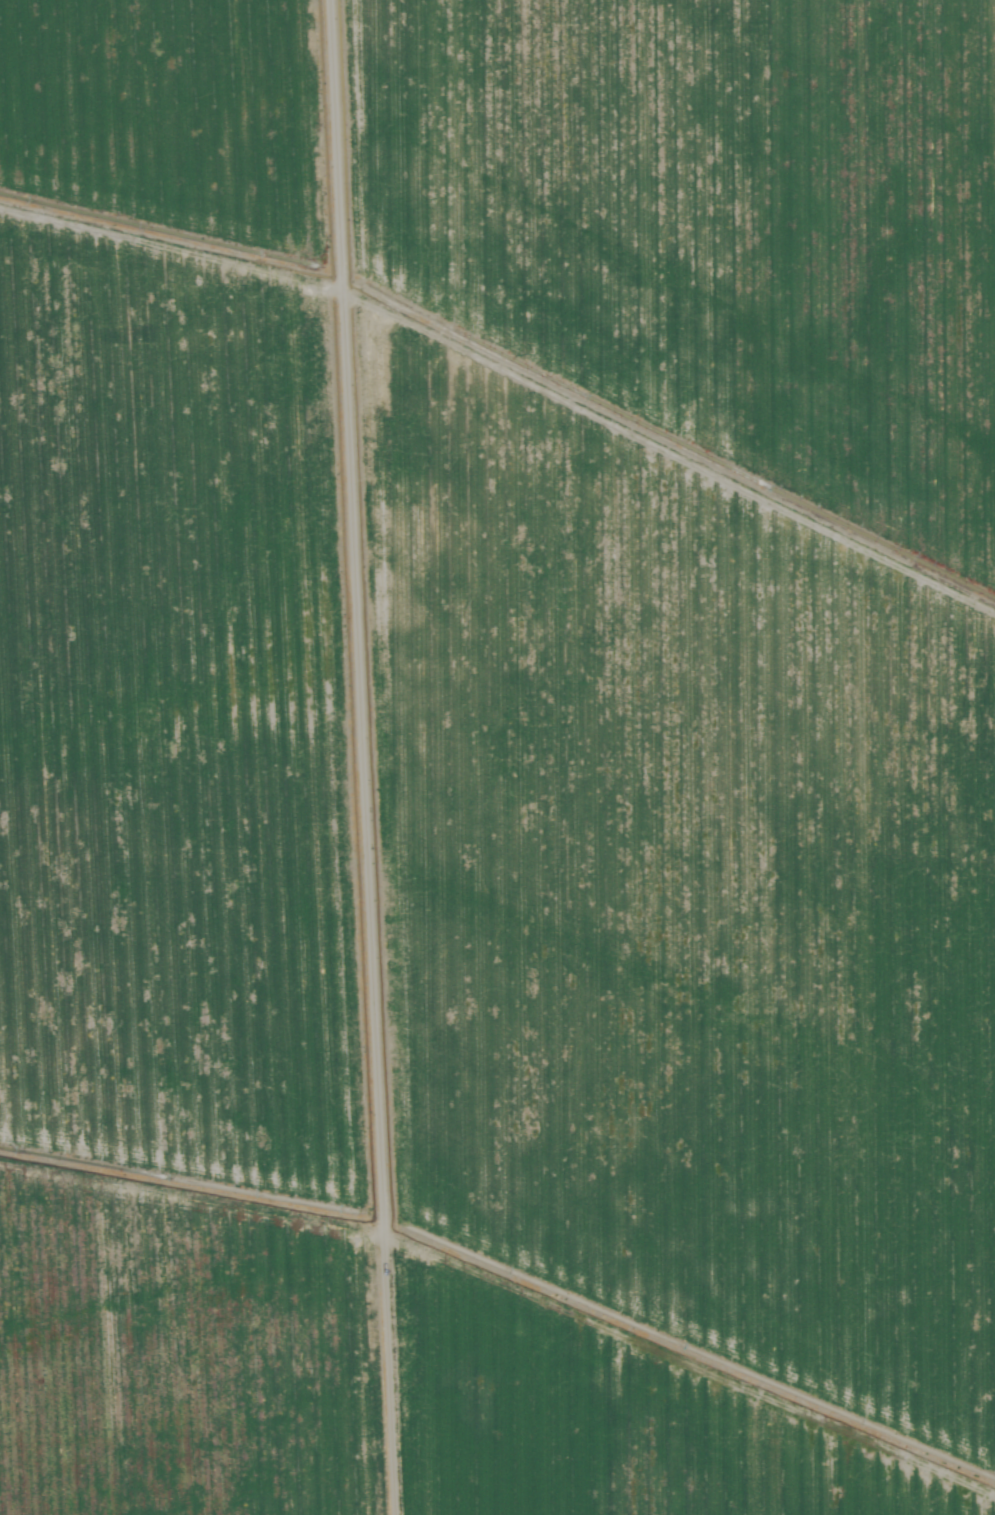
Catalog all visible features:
road: (400, 757)
crop: (497, 757)

